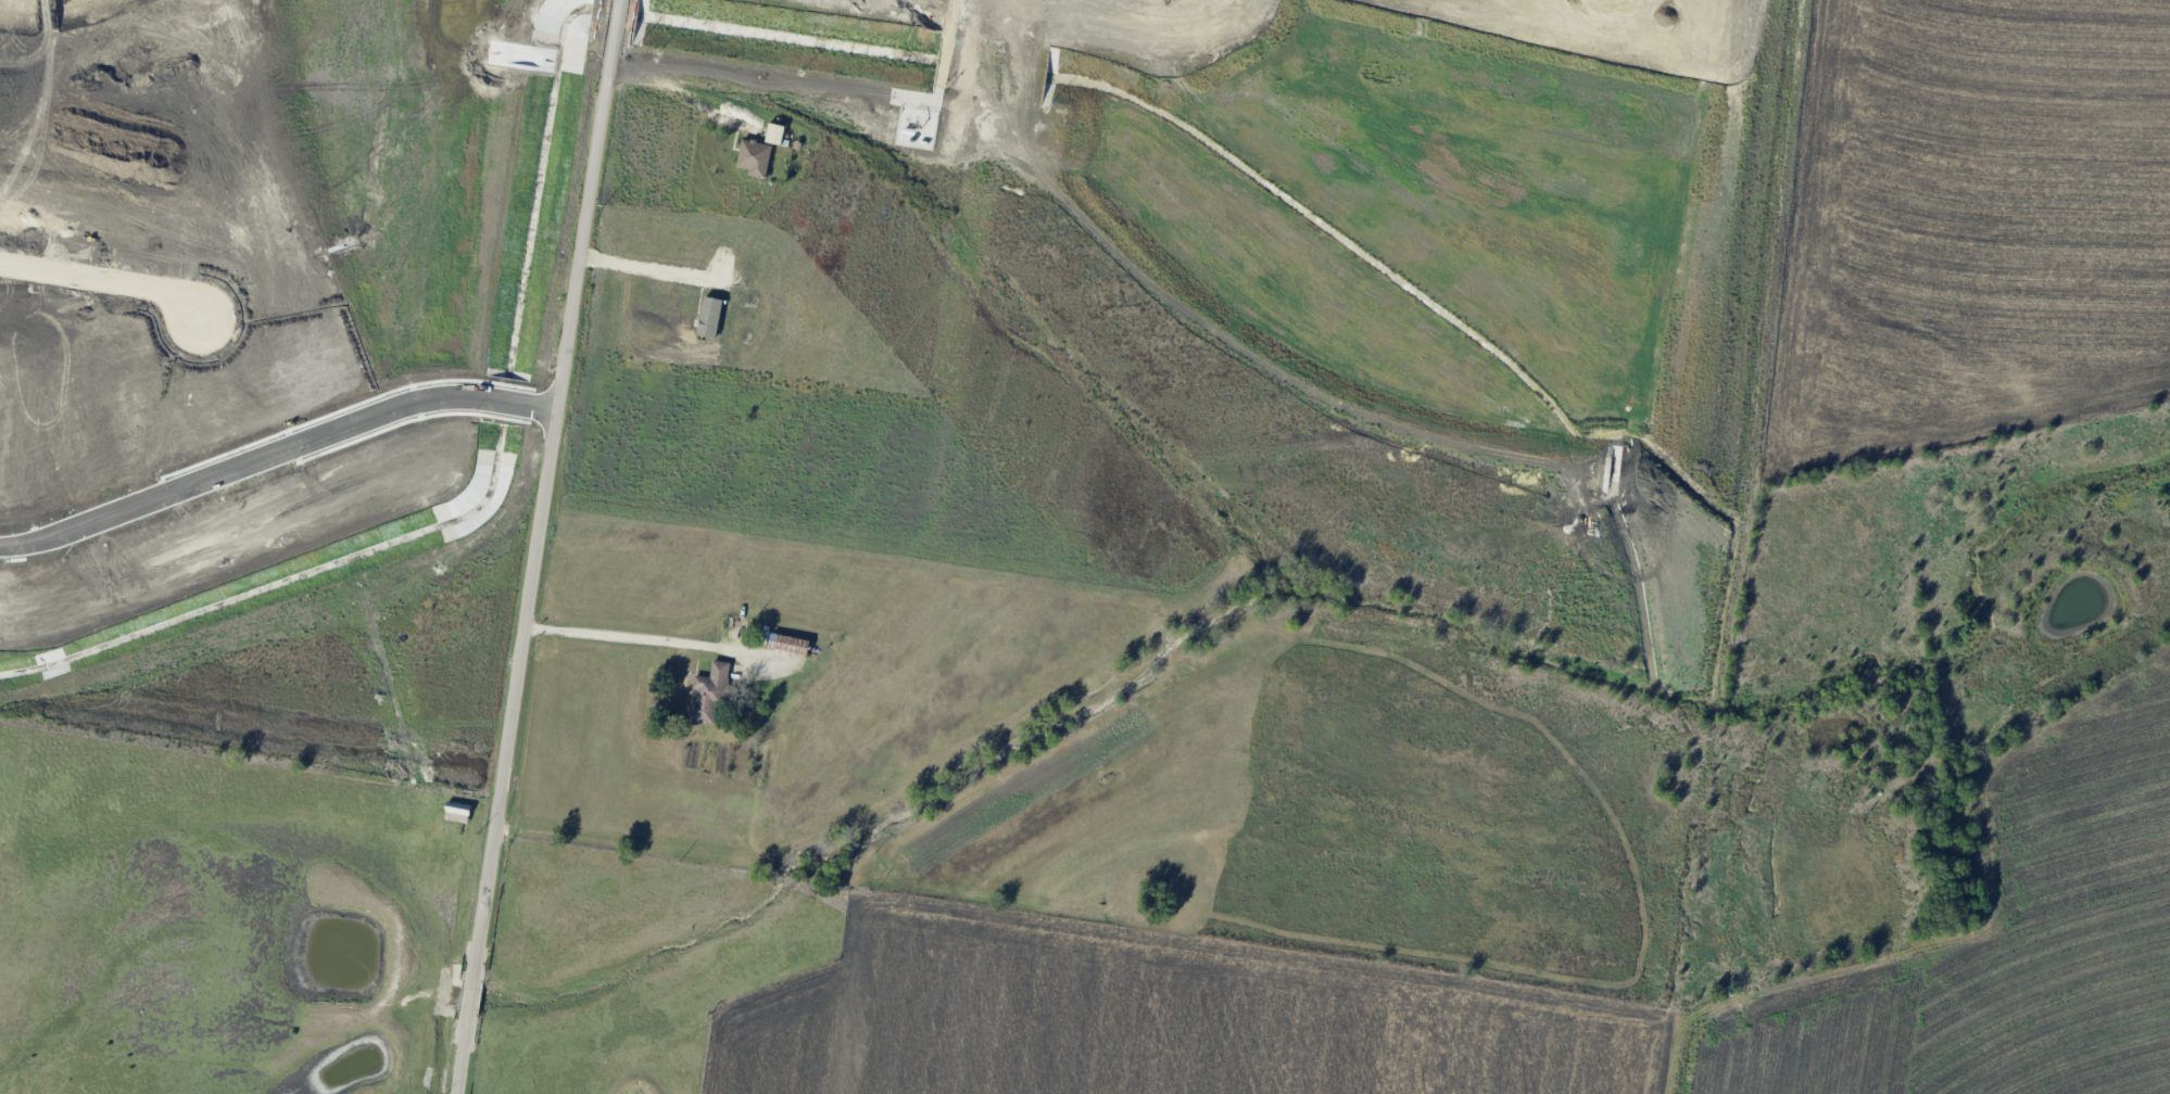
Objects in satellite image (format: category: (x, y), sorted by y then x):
road: (682, 93)
building: (755, 156)
road: (105, 282)
road: (275, 454)
road: (537, 546)
road: (627, 640)
building: (709, 695)

